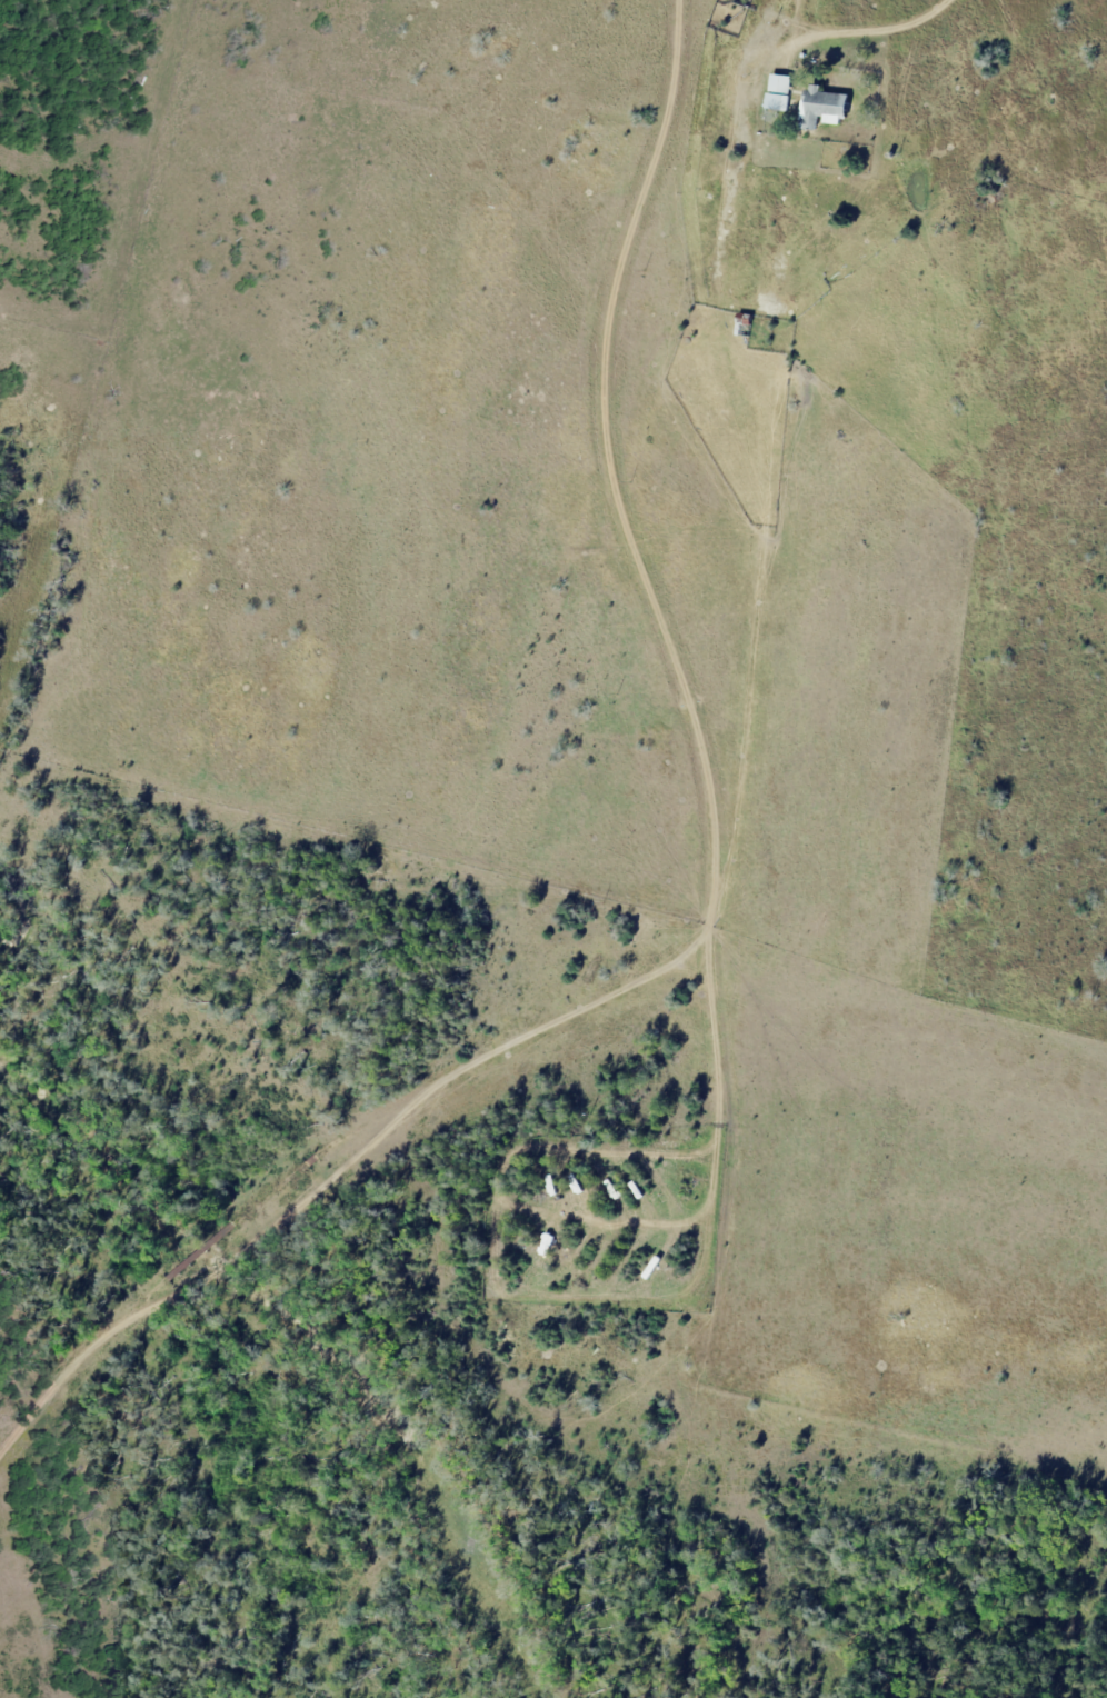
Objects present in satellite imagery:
building: (767, 84)
building: (781, 93)
building: (826, 108)
building: (835, 270)
building: (746, 324)
park: (975, 742)
road: (752, 877)

